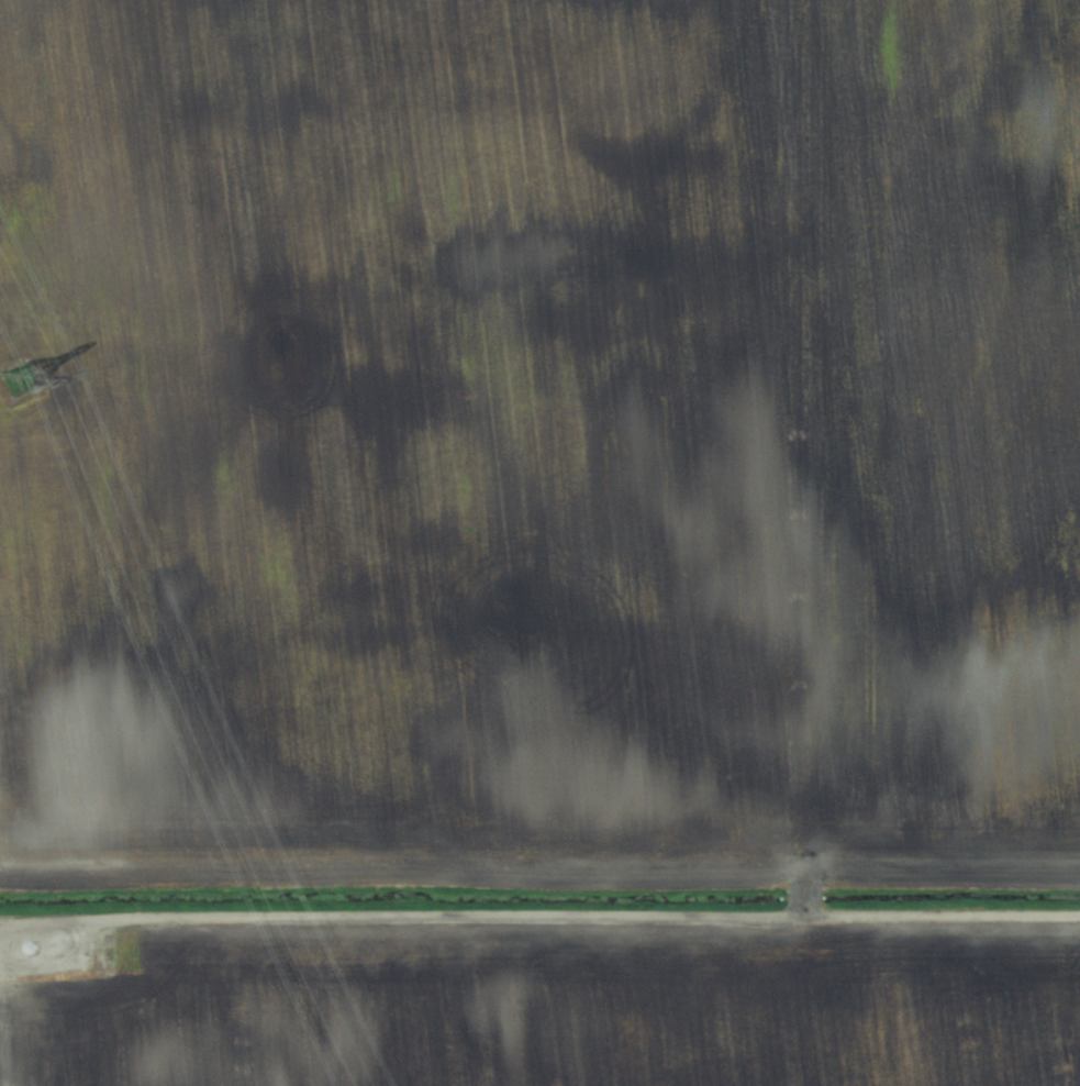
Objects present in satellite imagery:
power tower: (21, 385)

